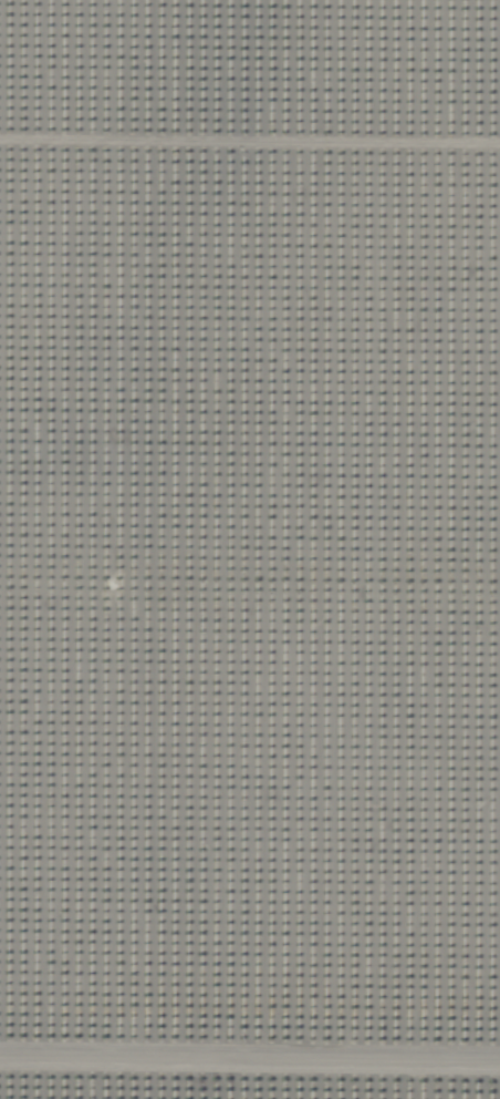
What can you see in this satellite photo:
crop: (250, 549)

